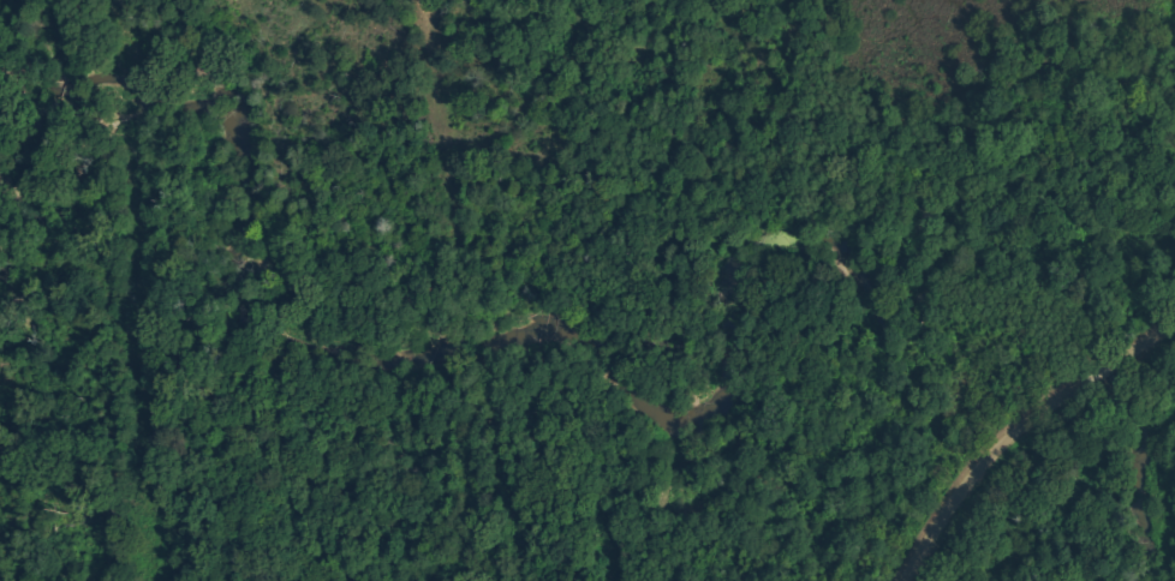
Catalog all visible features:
road: (1021, 431)

